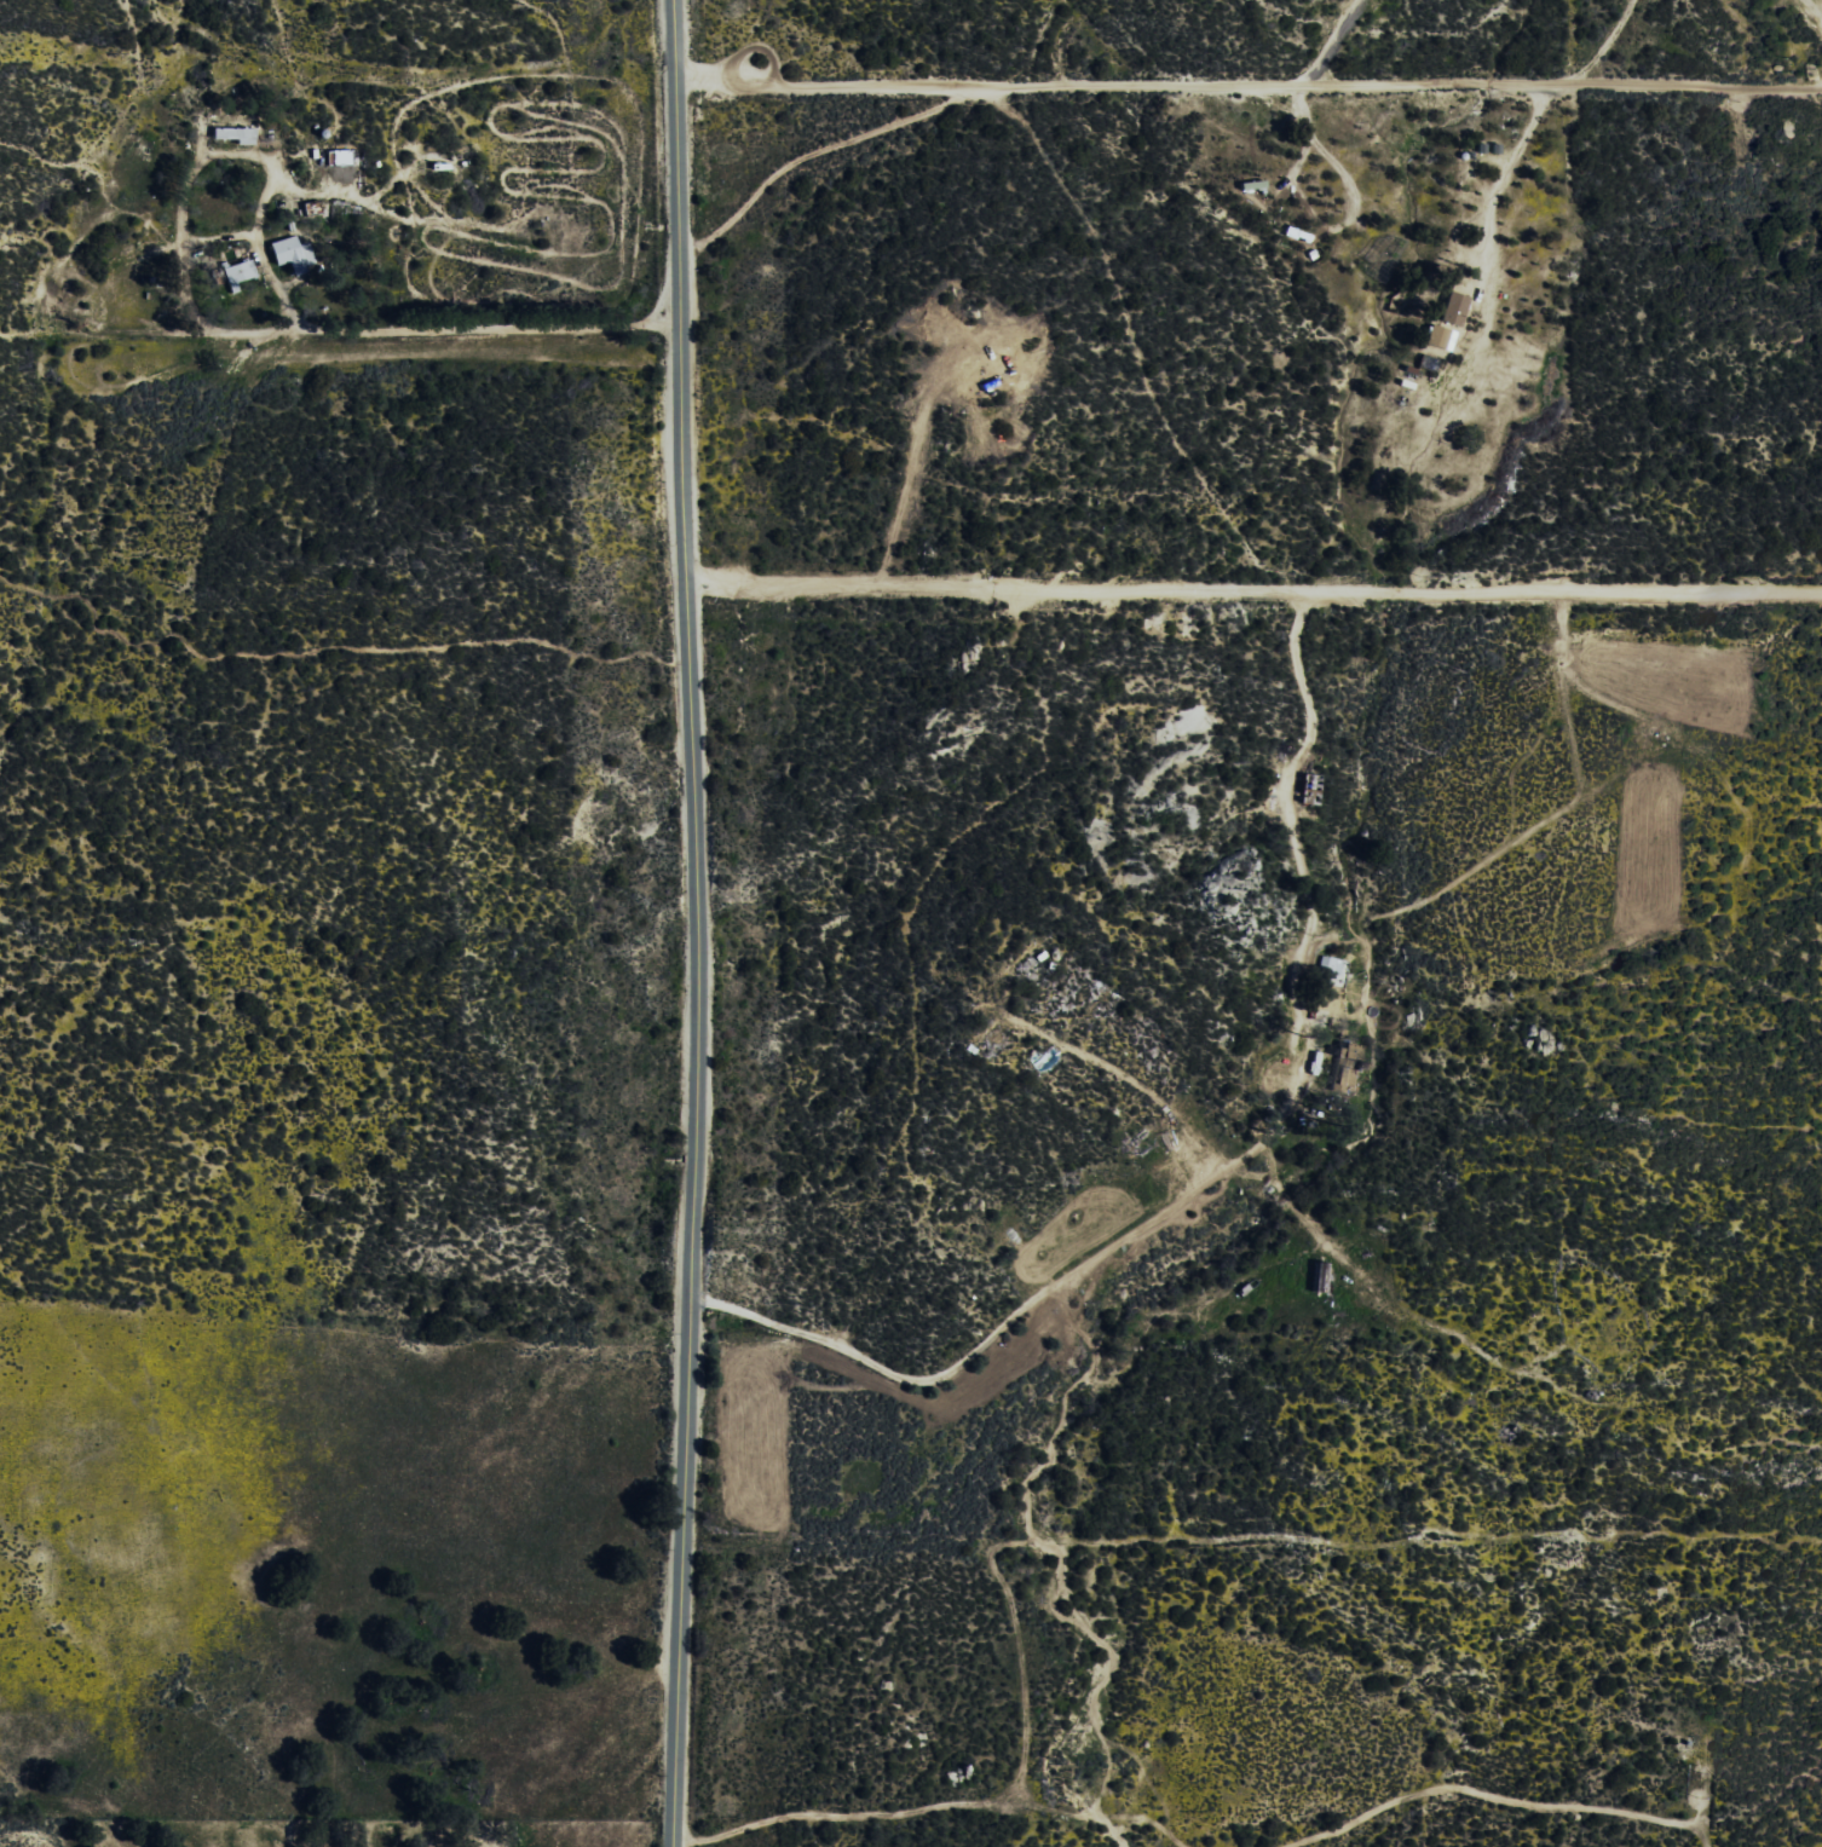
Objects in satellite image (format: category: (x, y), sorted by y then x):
road: (1343, 29)
road: (895, 87)
building: (233, 135)
building: (338, 157)
building: (293, 255)
building: (235, 270)
building: (1453, 308)
road: (449, 330)
building: (1436, 337)
road: (1246, 593)
road: (669, 923)
building: (1330, 971)

